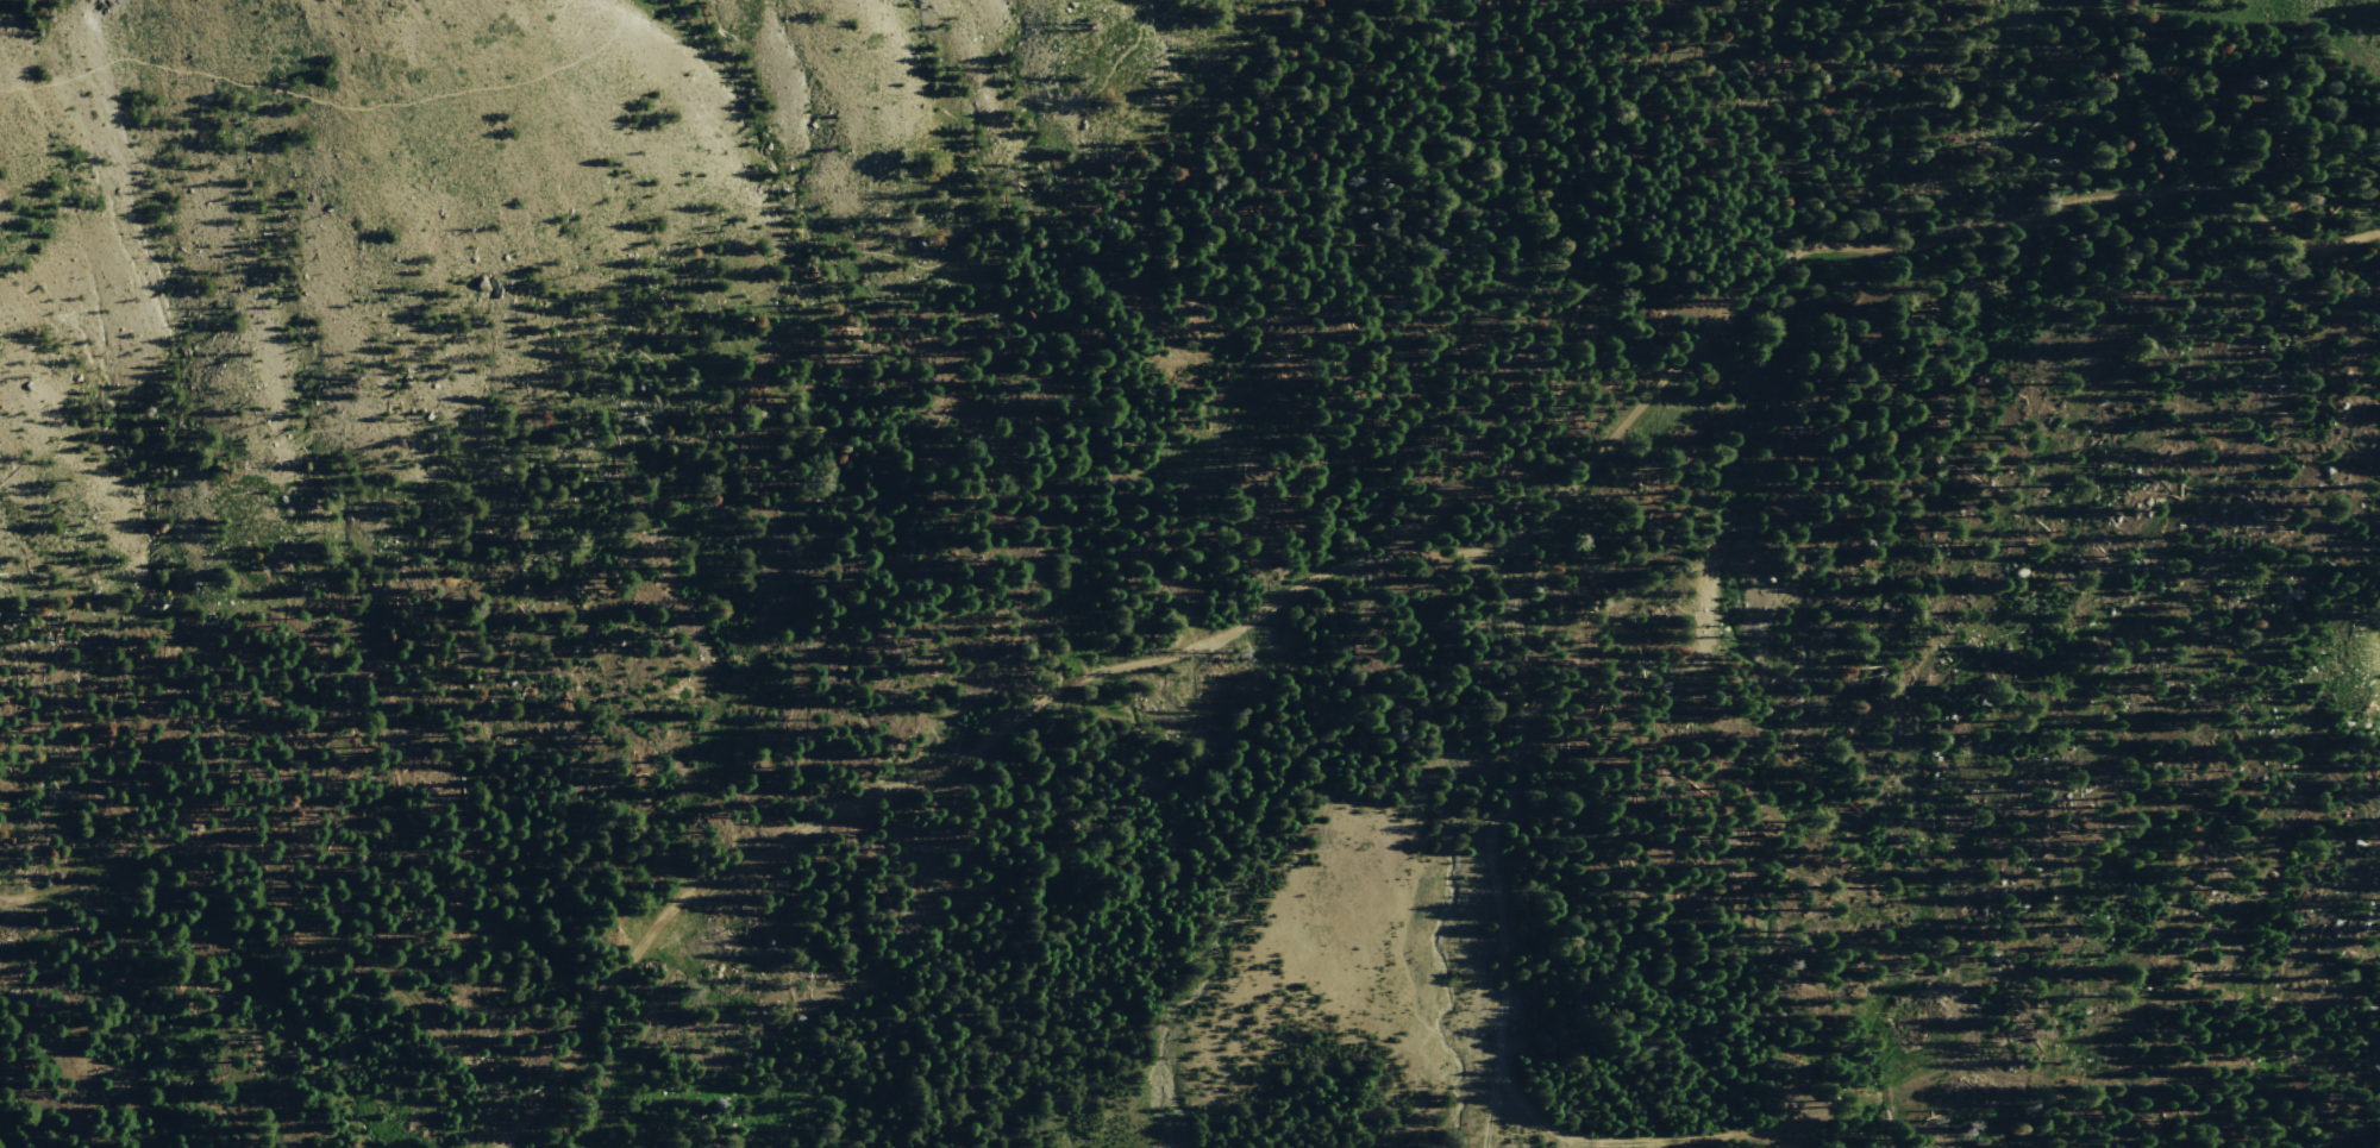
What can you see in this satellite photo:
road: (331, 101)
road: (1507, 225)
road: (1399, 557)

